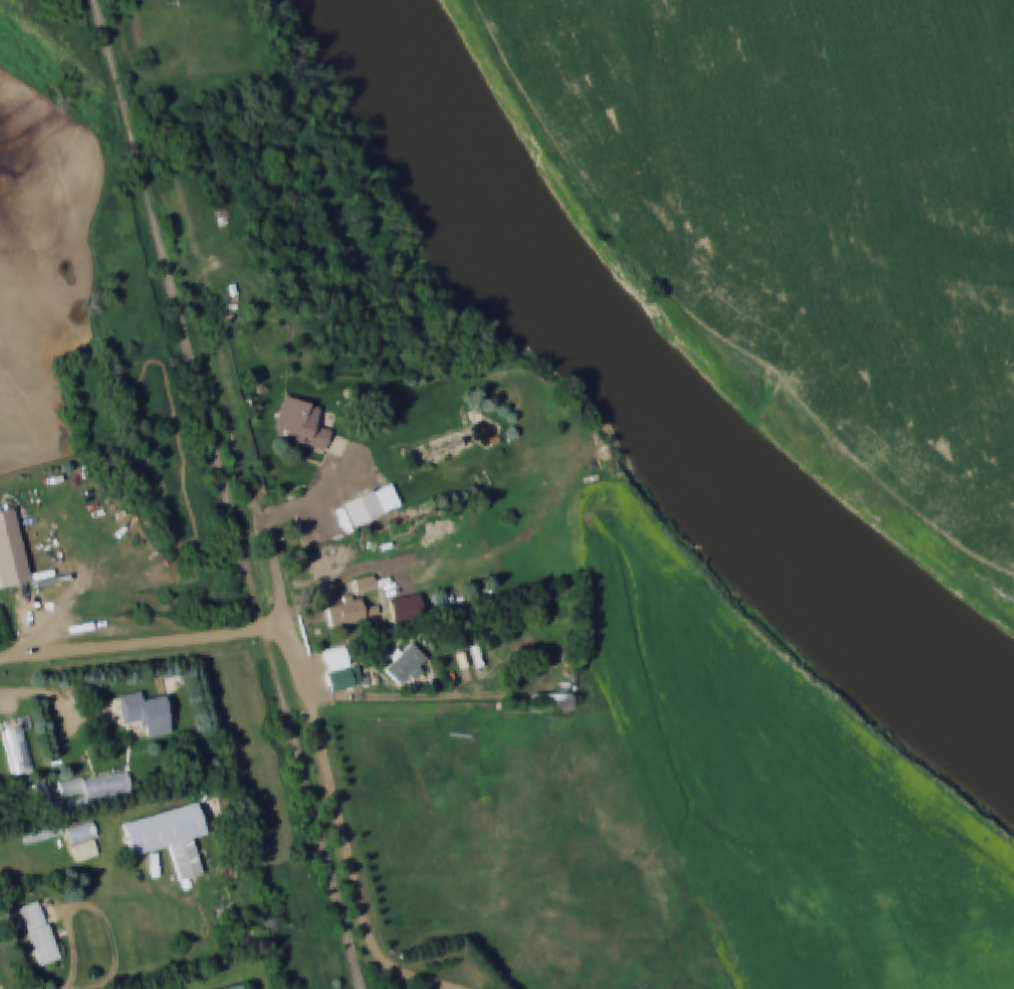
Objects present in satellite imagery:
road: (703, 325)
river: (637, 417)
building: (302, 422)
railway: (231, 493)
road: (328, 494)
building: (362, 509)
building: (364, 584)
building: (349, 612)
road: (142, 644)
building: (405, 664)
building: (340, 670)
road: (423, 700)
building: (145, 714)
road: (317, 739)
building: (20, 745)
building: (95, 786)
building: (178, 834)
building: (85, 841)
road: (514, 887)
road: (89, 909)
building: (39, 933)
road: (414, 973)
building: (236, 987)

